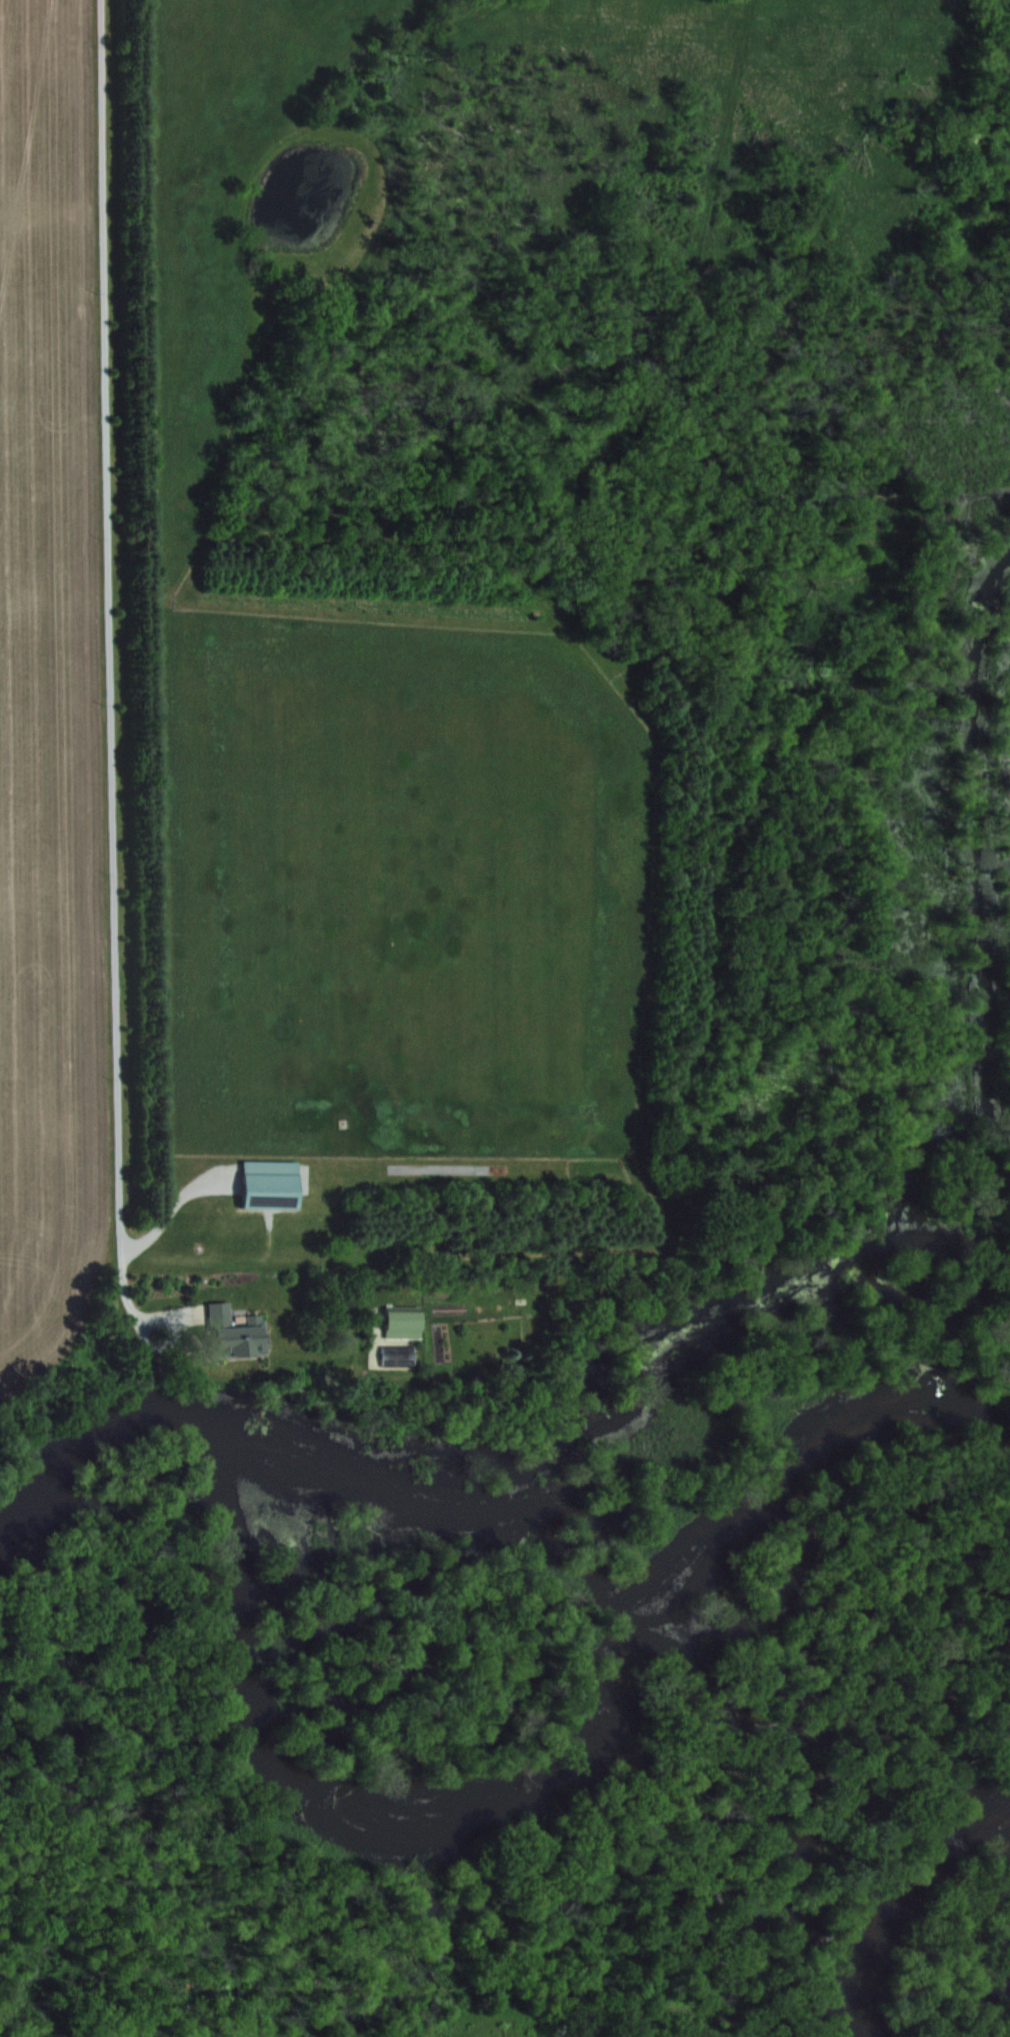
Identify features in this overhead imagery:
road: (102, 640)
building: (267, 1183)
road: (172, 1211)
road: (150, 1313)
building: (390, 1320)
building: (229, 1332)
river: (440, 1814)
river: (888, 1895)

